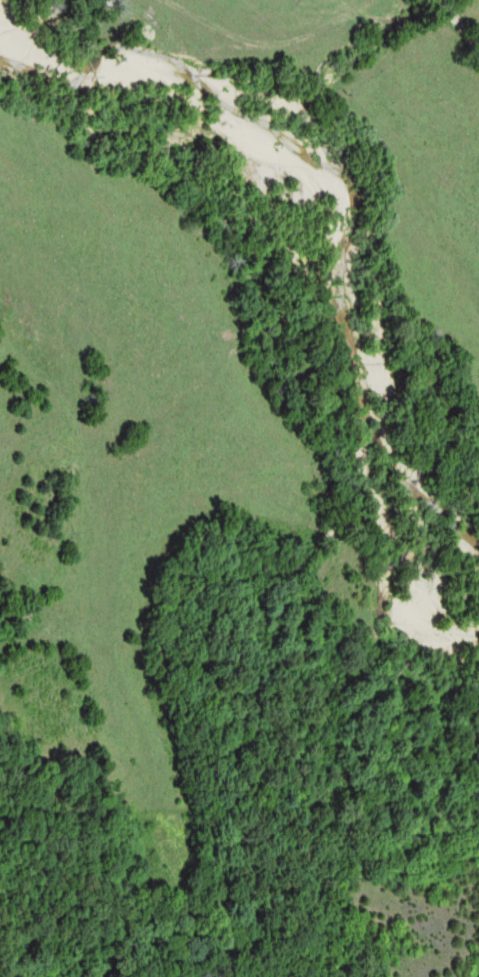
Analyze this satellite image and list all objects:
road: (460, 23)

